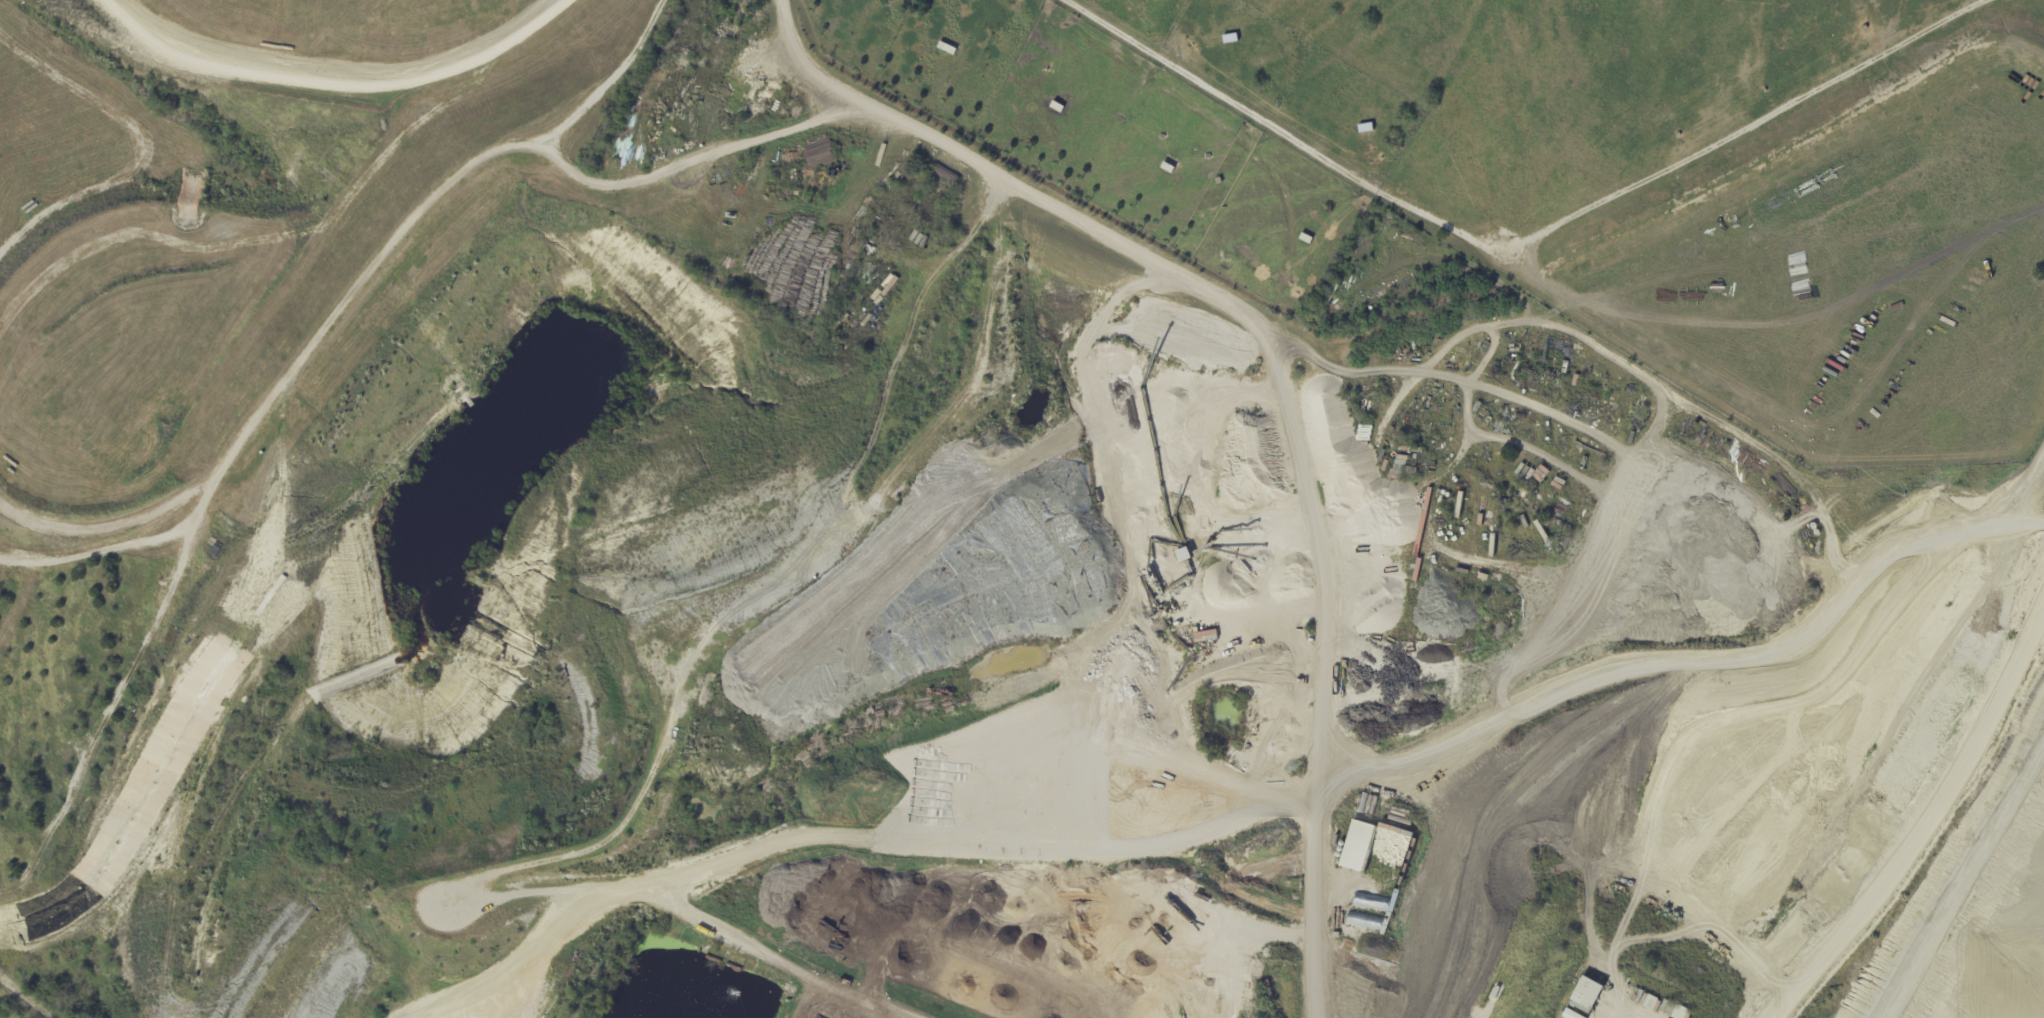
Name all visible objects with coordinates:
building: (945, 48)
road: (340, 56)
building: (1057, 108)
building: (1166, 168)
road: (1521, 227)
building: (1306, 238)
building: (906, 283)
building: (1326, 298)
road: (1280, 377)
building: (1459, 504)
building: (1540, 530)
building: (1492, 545)
building: (1228, 609)
building: (1282, 777)
road: (1586, 840)
building: (1587, 992)
building: (1646, 1001)
landfill: (1806, 1003)
building: (1656, 1006)
building: (1674, 1010)
building: (1569, 1014)

